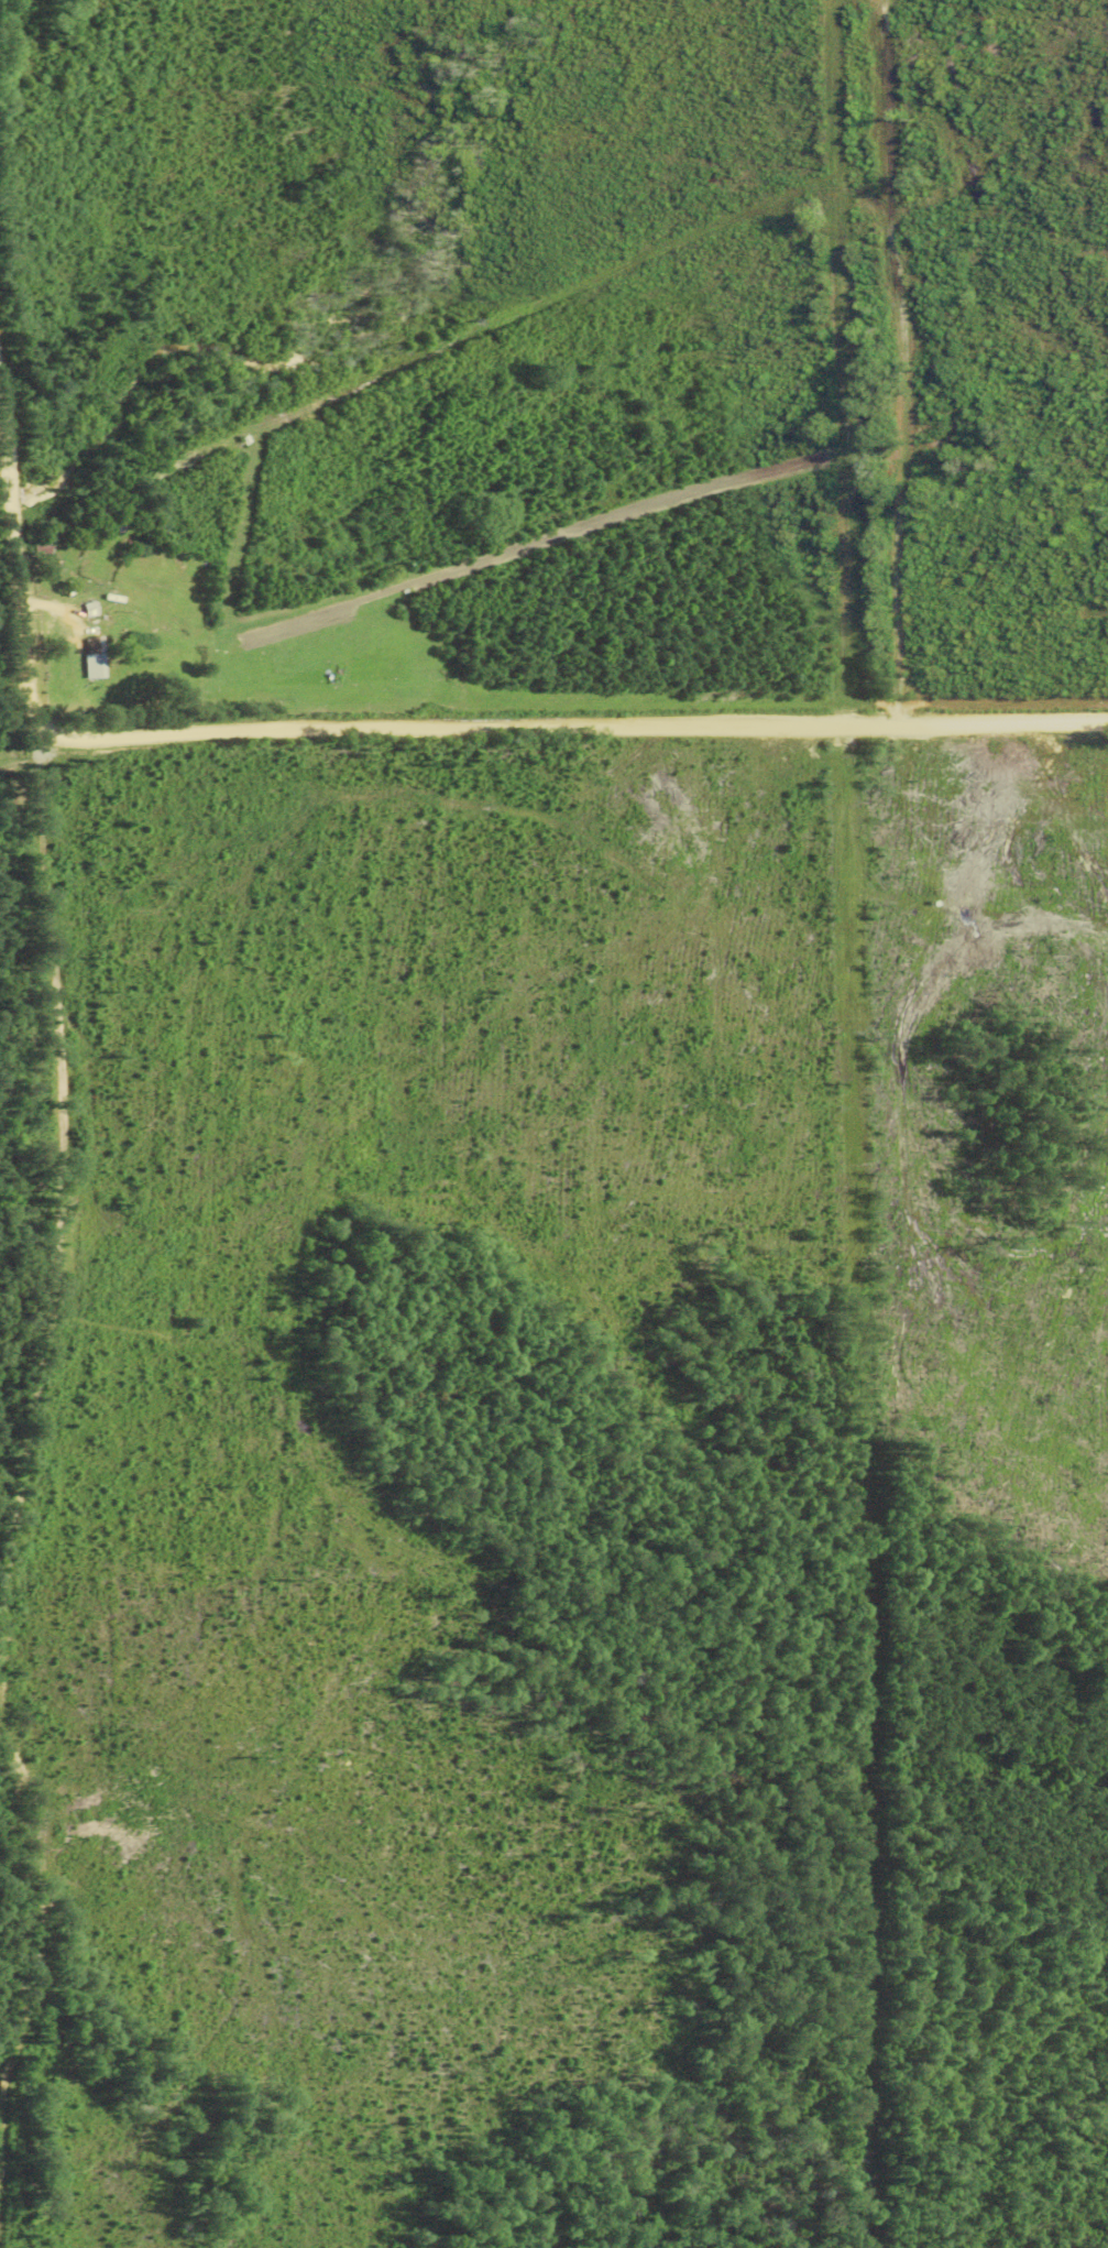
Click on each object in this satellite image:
building: (44, 548)
building: (94, 658)
road: (391, 728)

